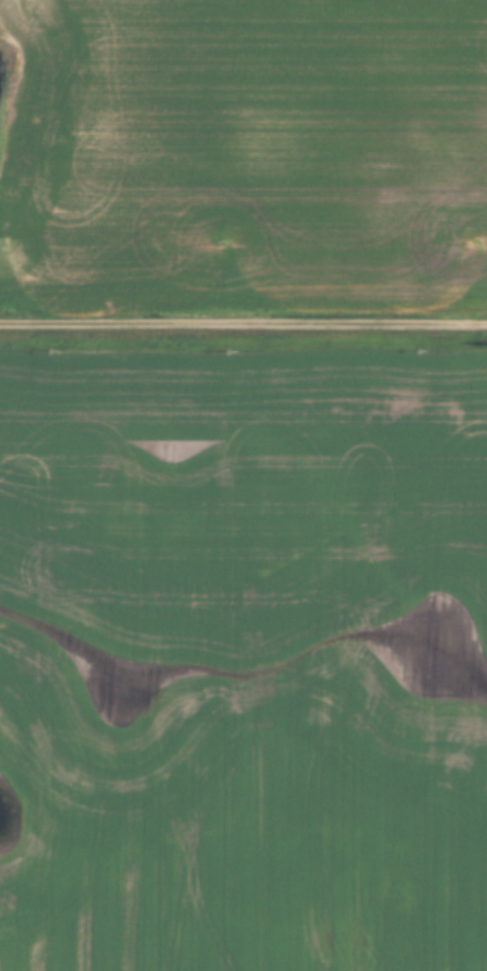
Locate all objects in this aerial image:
road: (243, 322)

